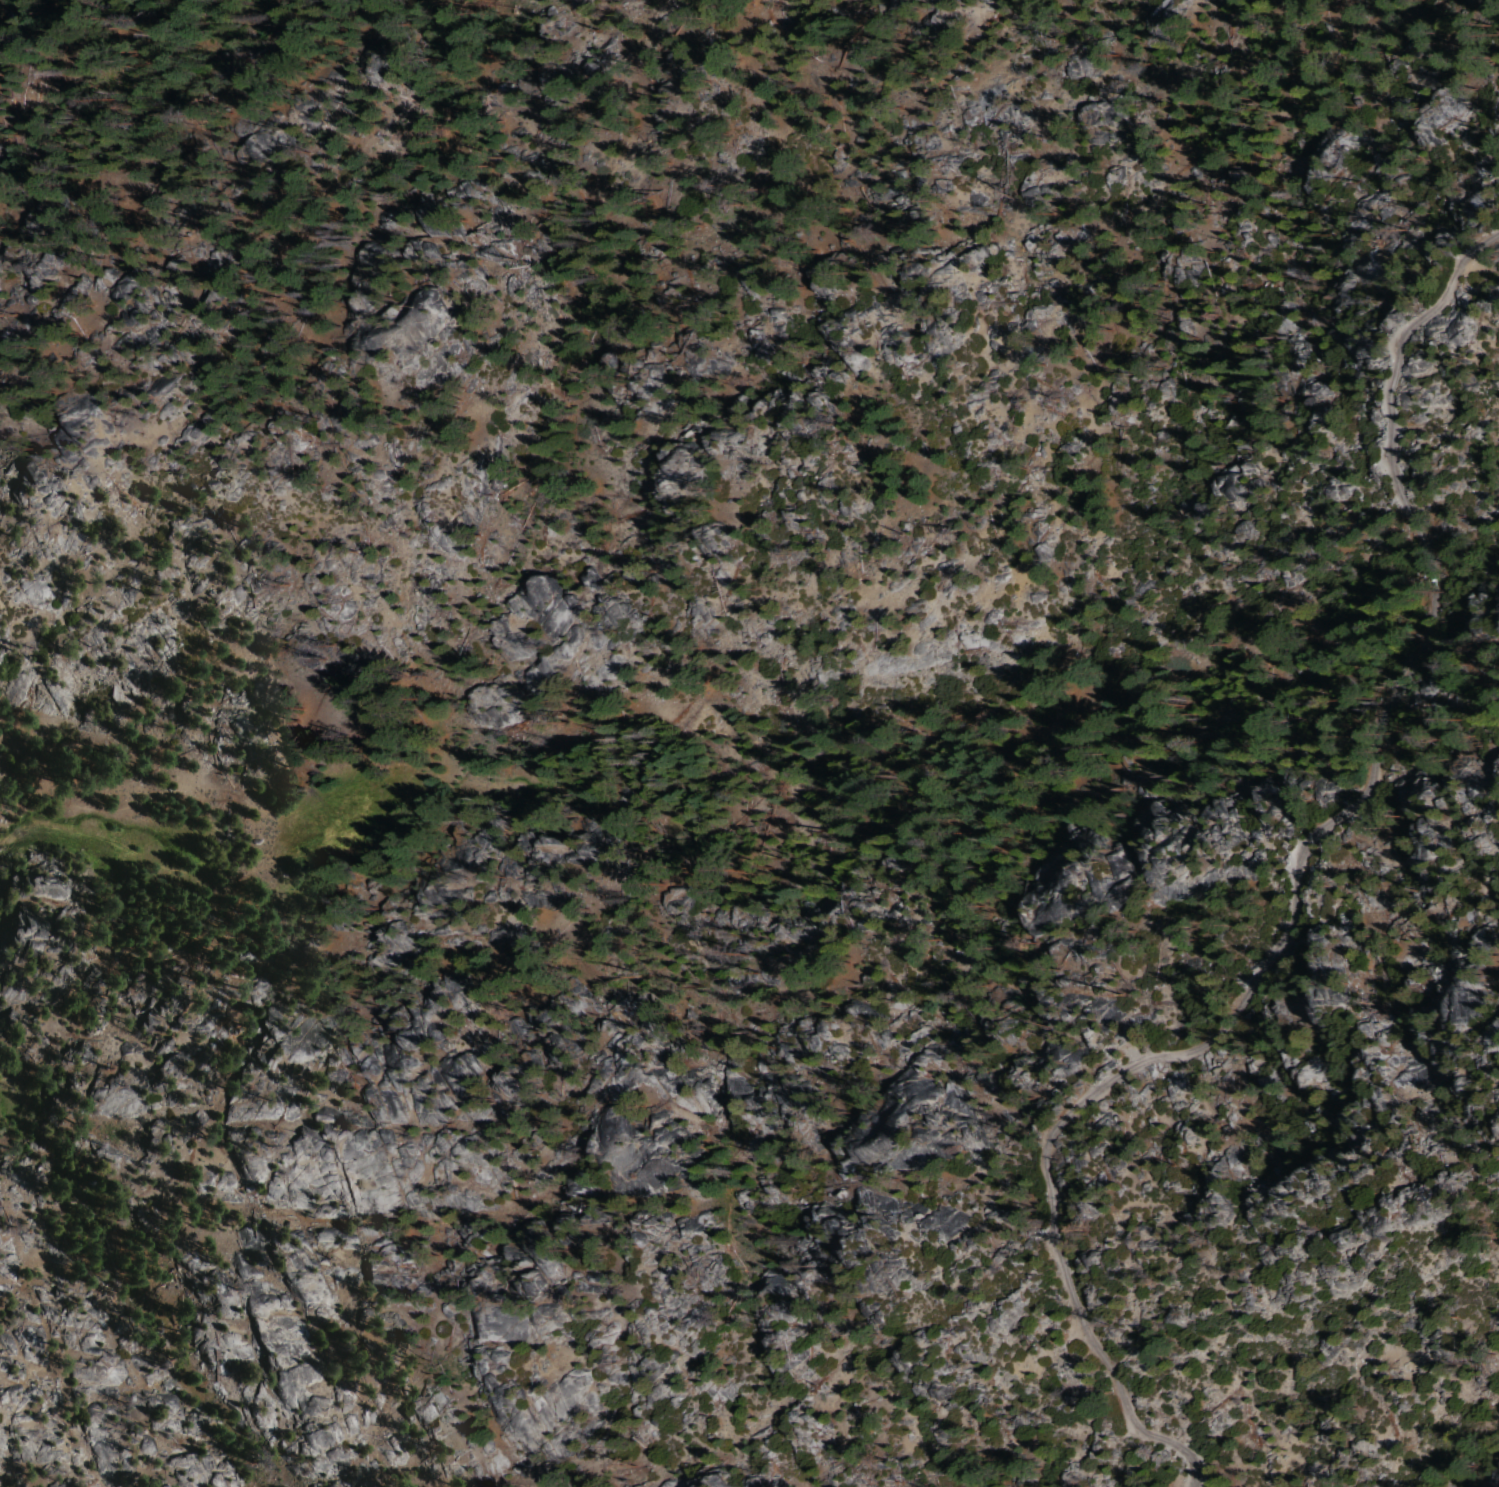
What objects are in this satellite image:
road: (1288, 897)

